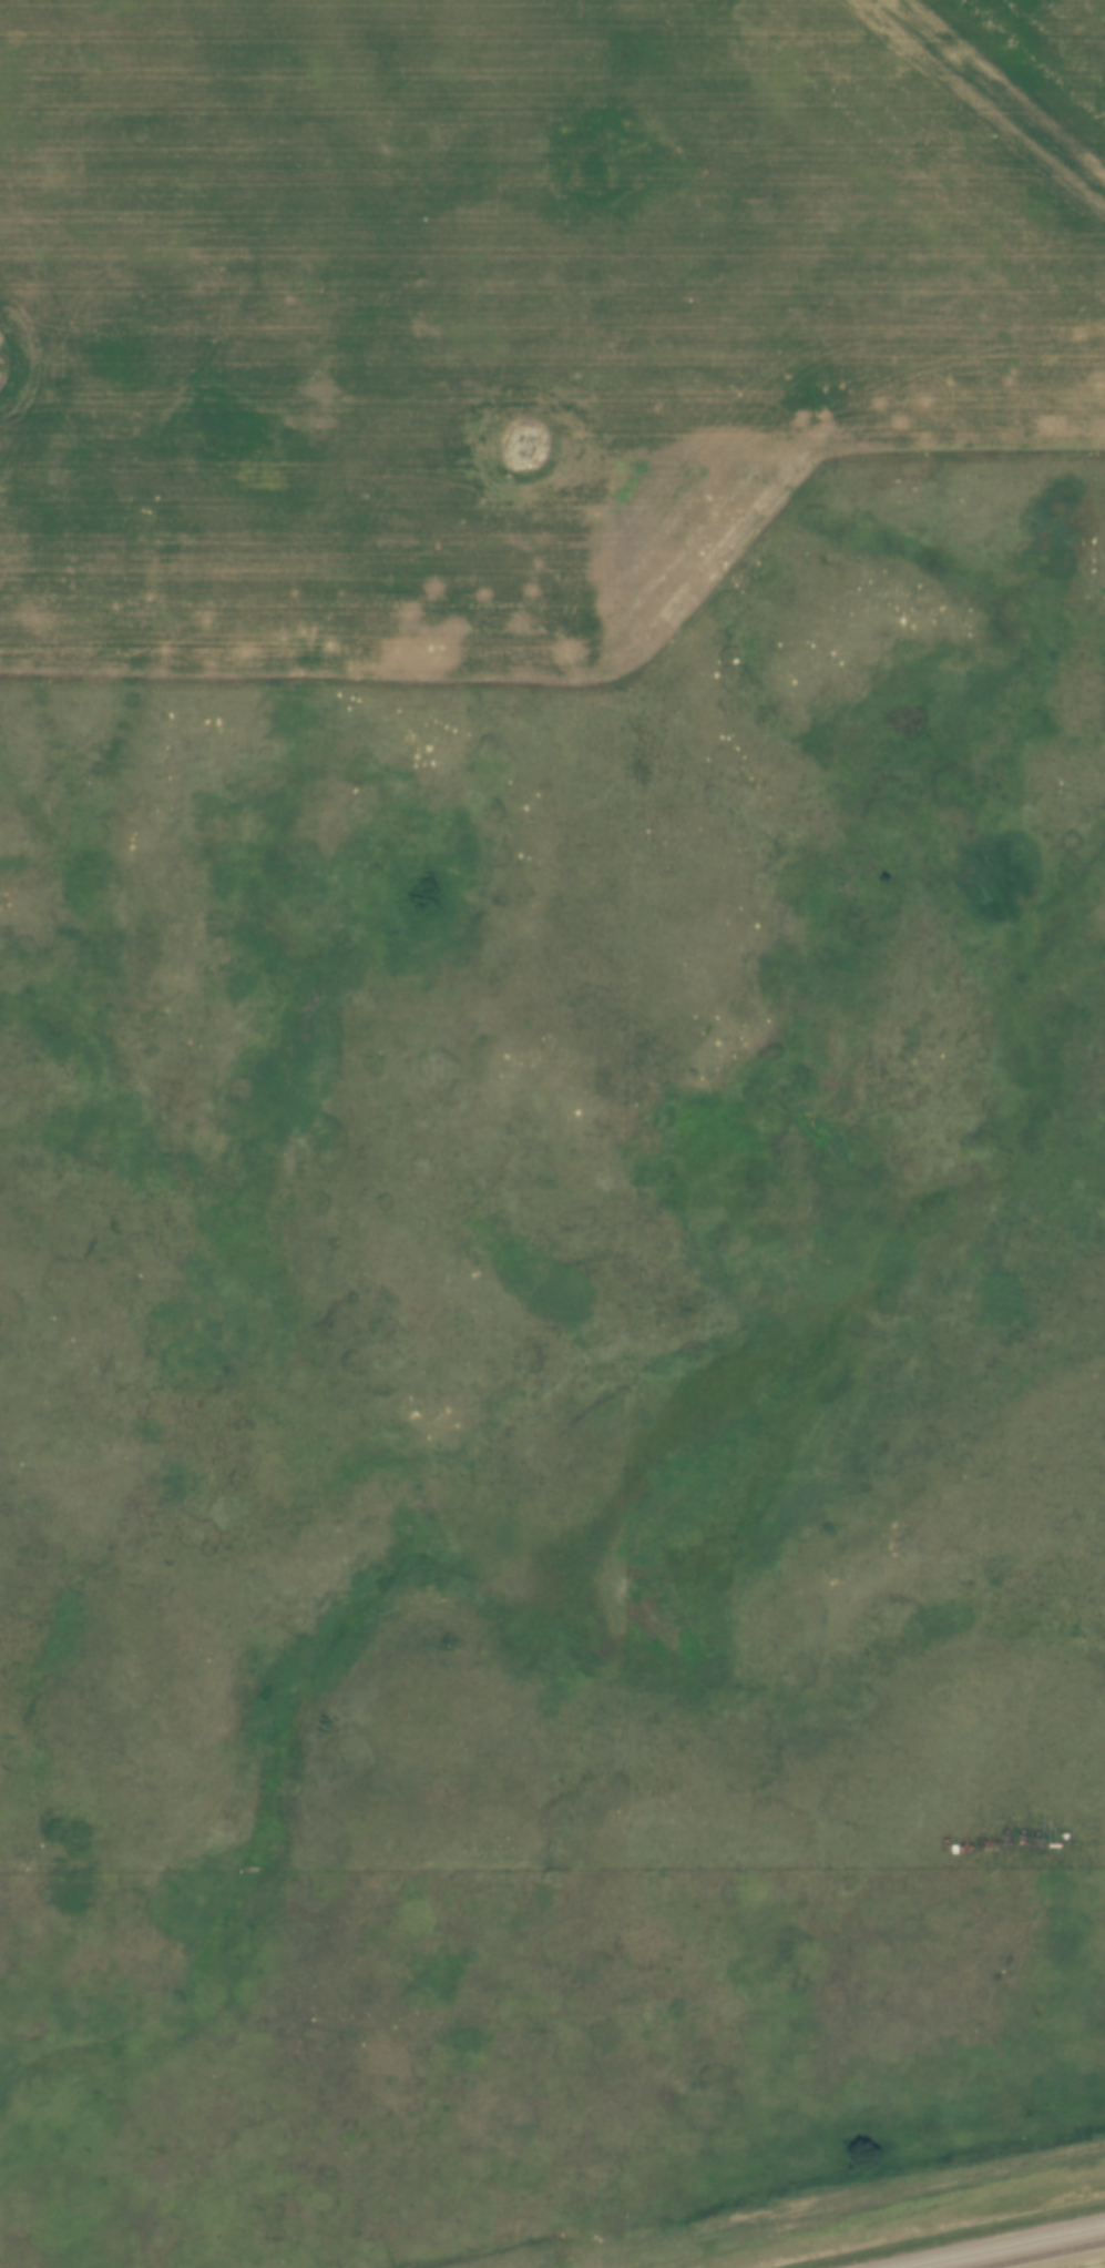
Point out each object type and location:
road: (552, 1864)
railway: (991, 2244)
railway: (1036, 2254)

